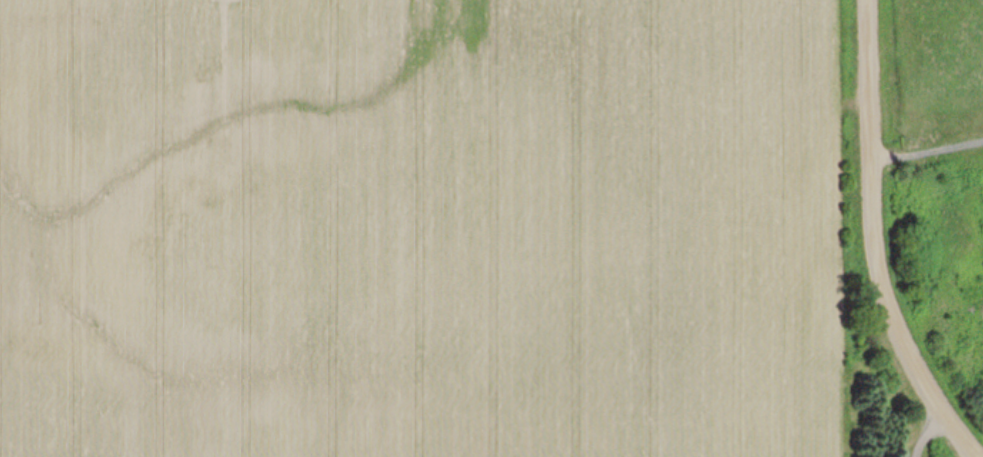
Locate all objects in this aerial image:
road: (927, 152)
park: (924, 202)
road: (874, 243)
road: (926, 434)

